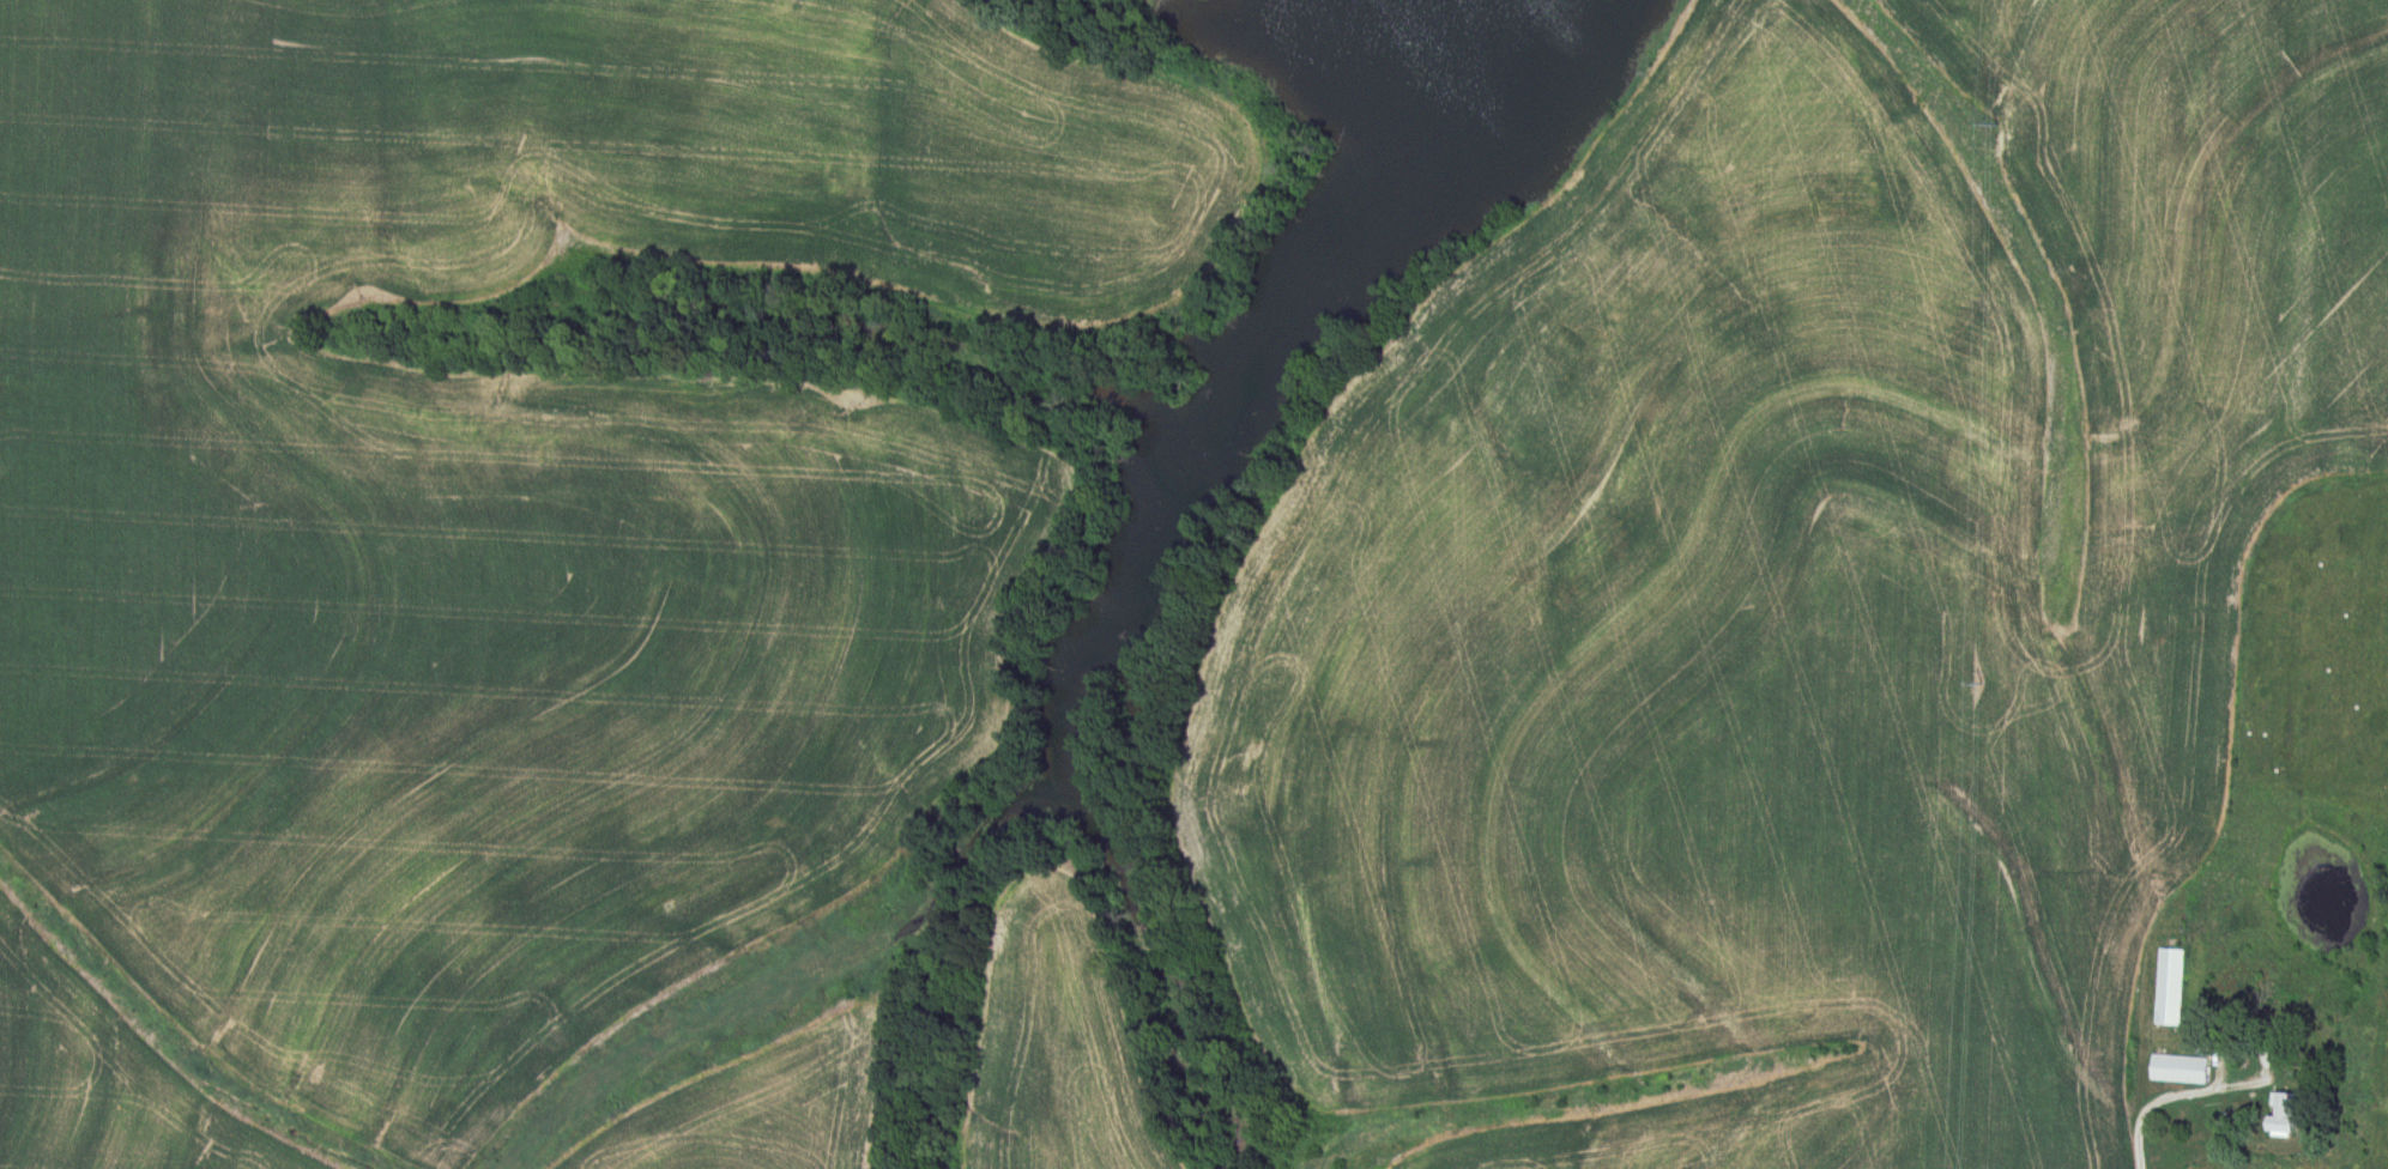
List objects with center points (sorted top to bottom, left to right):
building: (2164, 987)
building: (2174, 1068)
road: (2175, 1095)
building: (2277, 1115)

